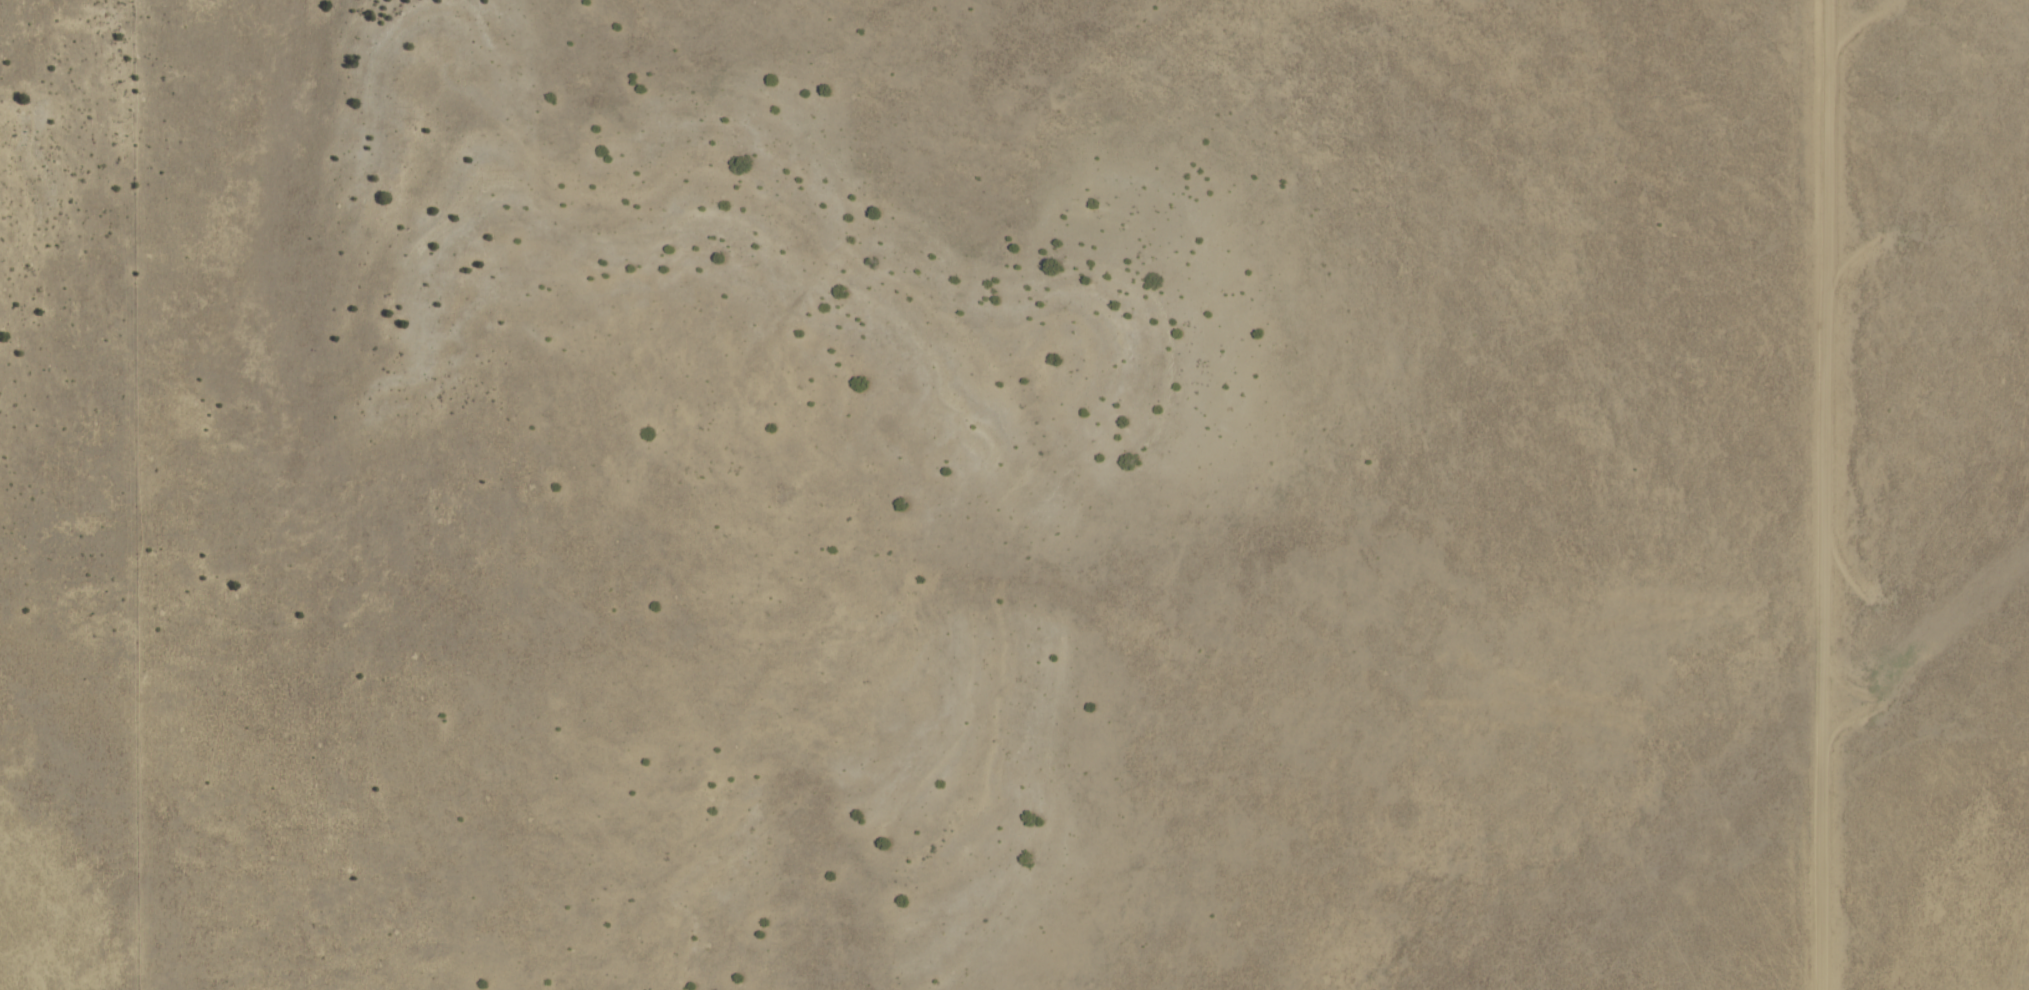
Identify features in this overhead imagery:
road: (1804, 495)

